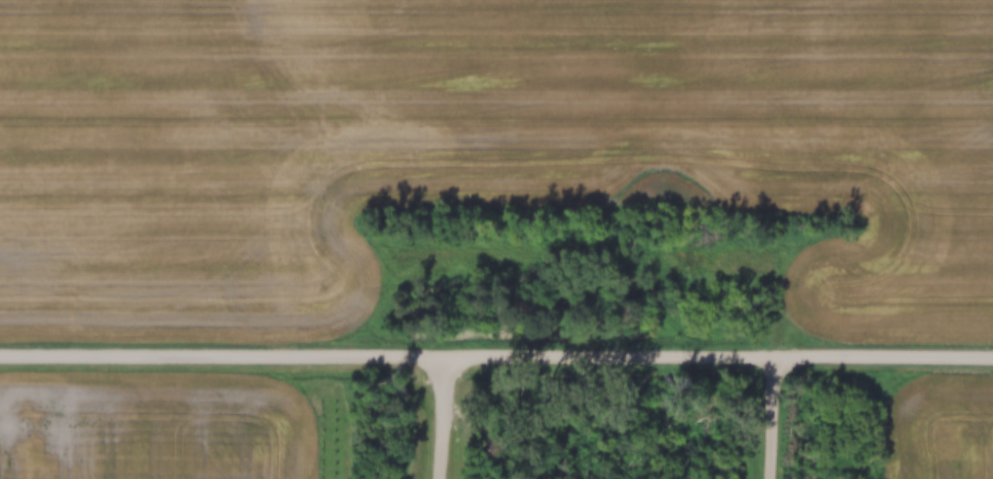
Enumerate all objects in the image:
road: (496, 358)
road: (446, 418)
road: (767, 418)

